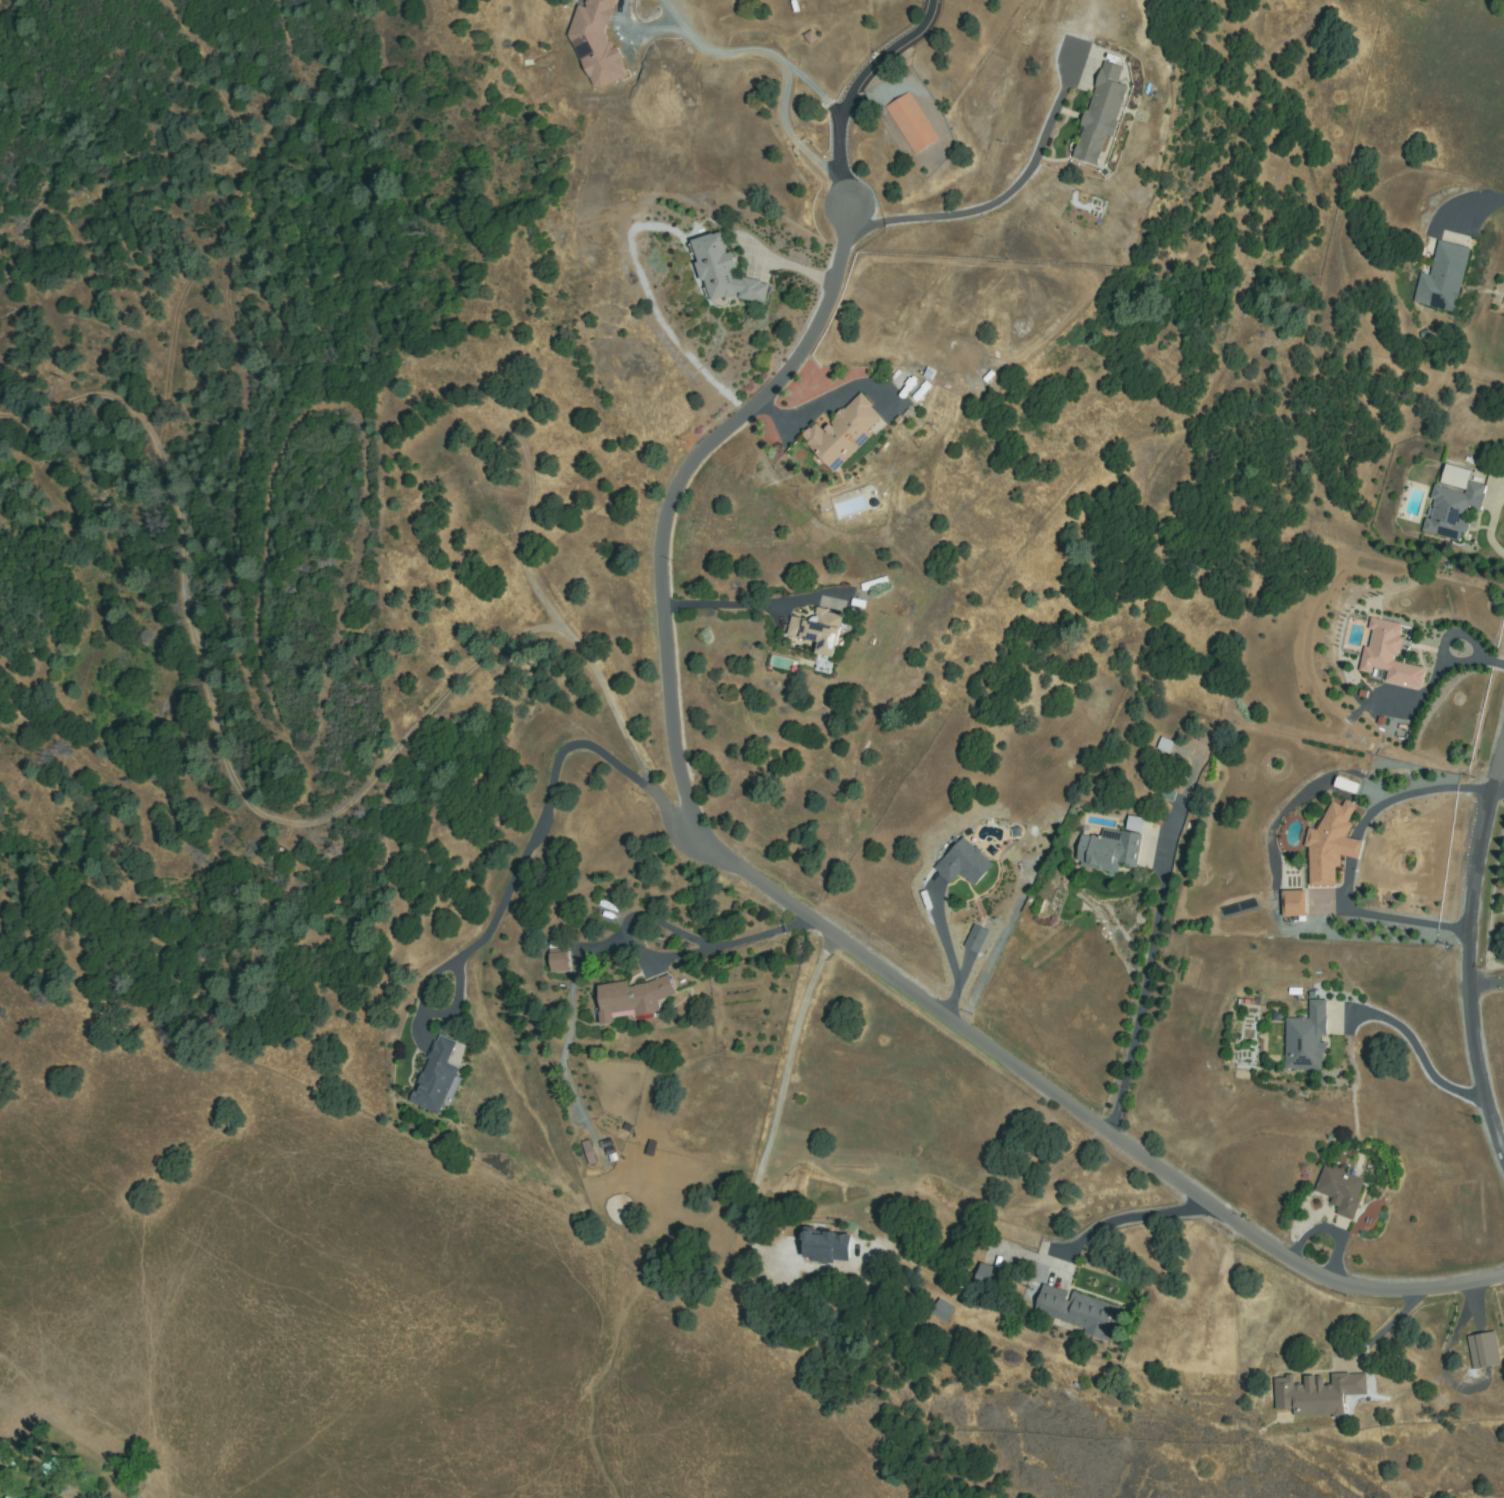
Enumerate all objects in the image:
building: (598, 42)
building: (1101, 114)
building: (911, 123)
road: (229, 227)
building: (724, 271)
building: (1444, 277)
building: (845, 432)
road: (676, 492)
building: (1453, 512)
building: (821, 632)
building: (1388, 655)
building: (1162, 744)
building: (1347, 786)
road: (285, 823)
building: (1131, 823)
building: (1016, 832)
building: (1331, 845)
building: (1109, 850)
building: (963, 863)
building: (1029, 863)
building: (1295, 903)
building: (977, 939)
road: (1466, 947)
building: (559, 961)
building: (632, 999)
building: (1306, 1039)
building: (436, 1077)
road: (1081, 1115)
building: (585, 1151)
building: (1341, 1189)
building: (824, 1247)
building: (989, 1278)
building: (942, 1310)
building: (1077, 1311)
building: (1484, 1350)
building: (1317, 1394)
building: (52, 1468)
building: (2, 1496)
building: (11, 1497)

